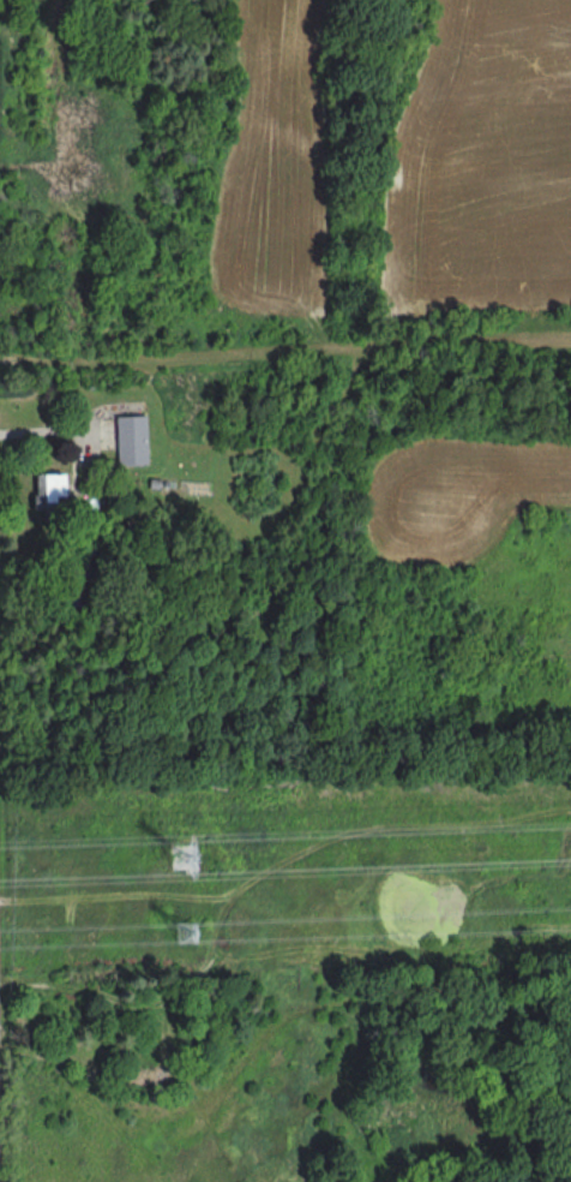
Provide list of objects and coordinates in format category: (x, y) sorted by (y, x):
building: (130, 440)
building: (47, 489)
power tower: (184, 858)
power tower: (185, 930)

